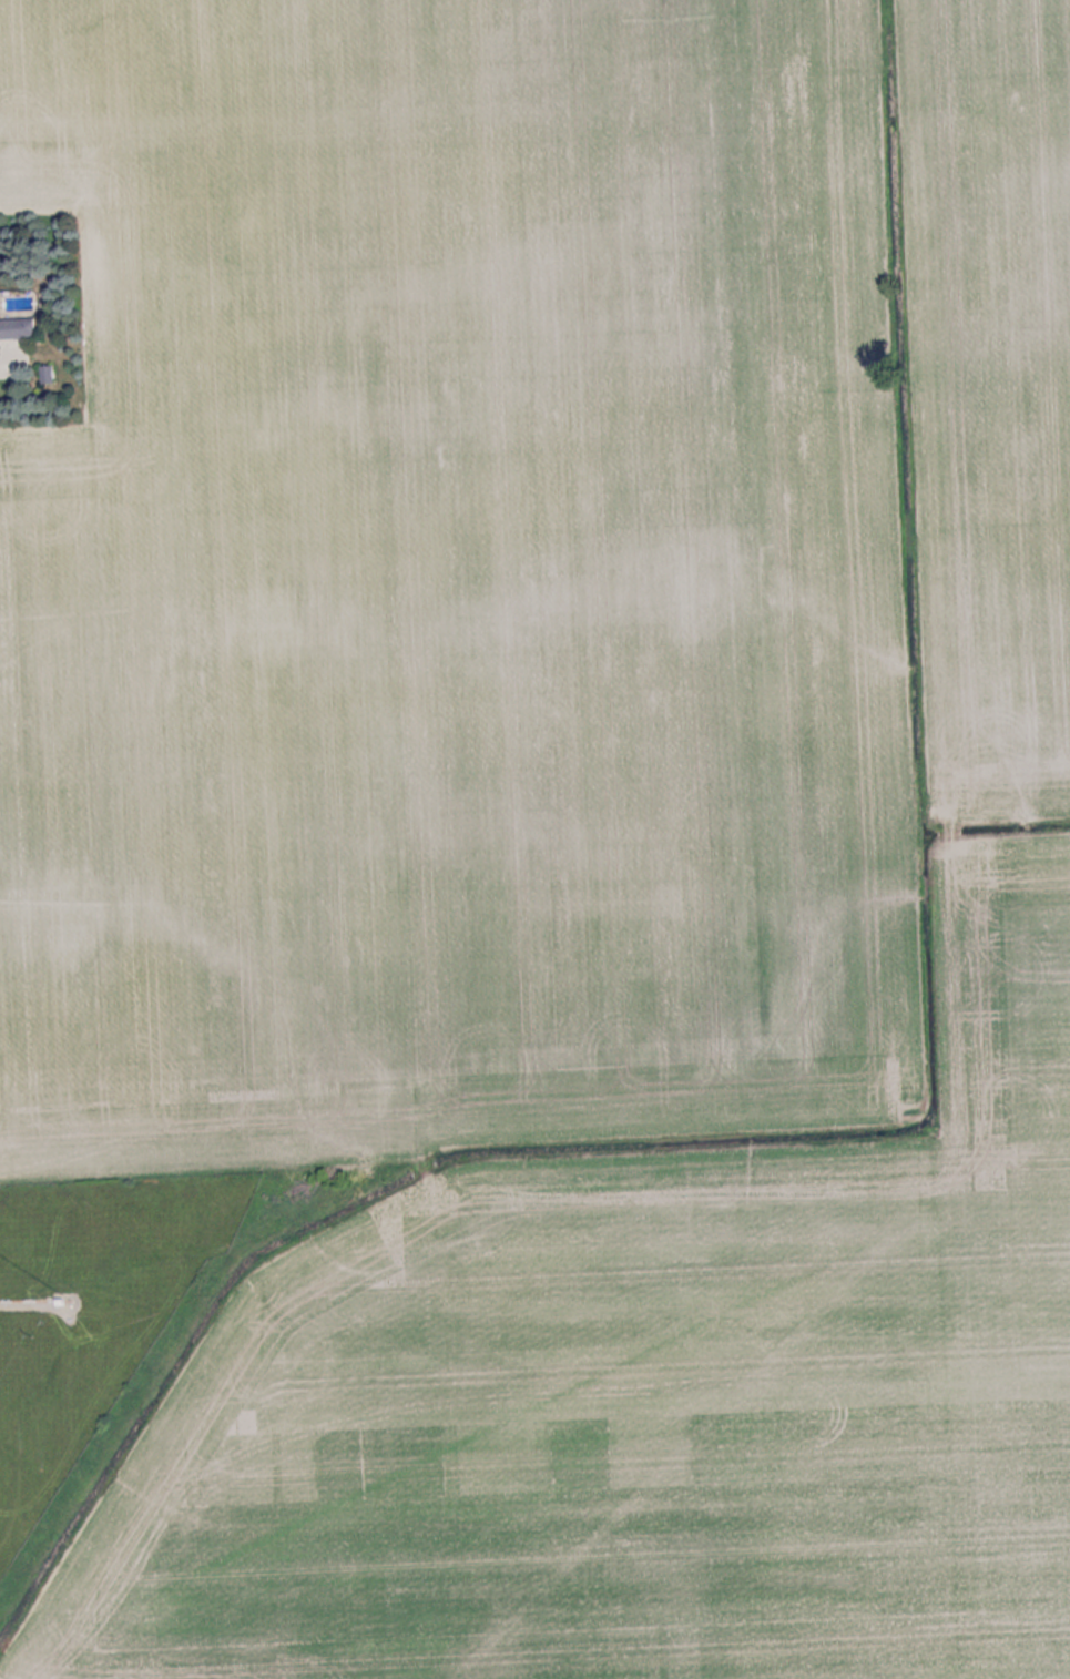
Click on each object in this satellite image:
building: (19, 329)

